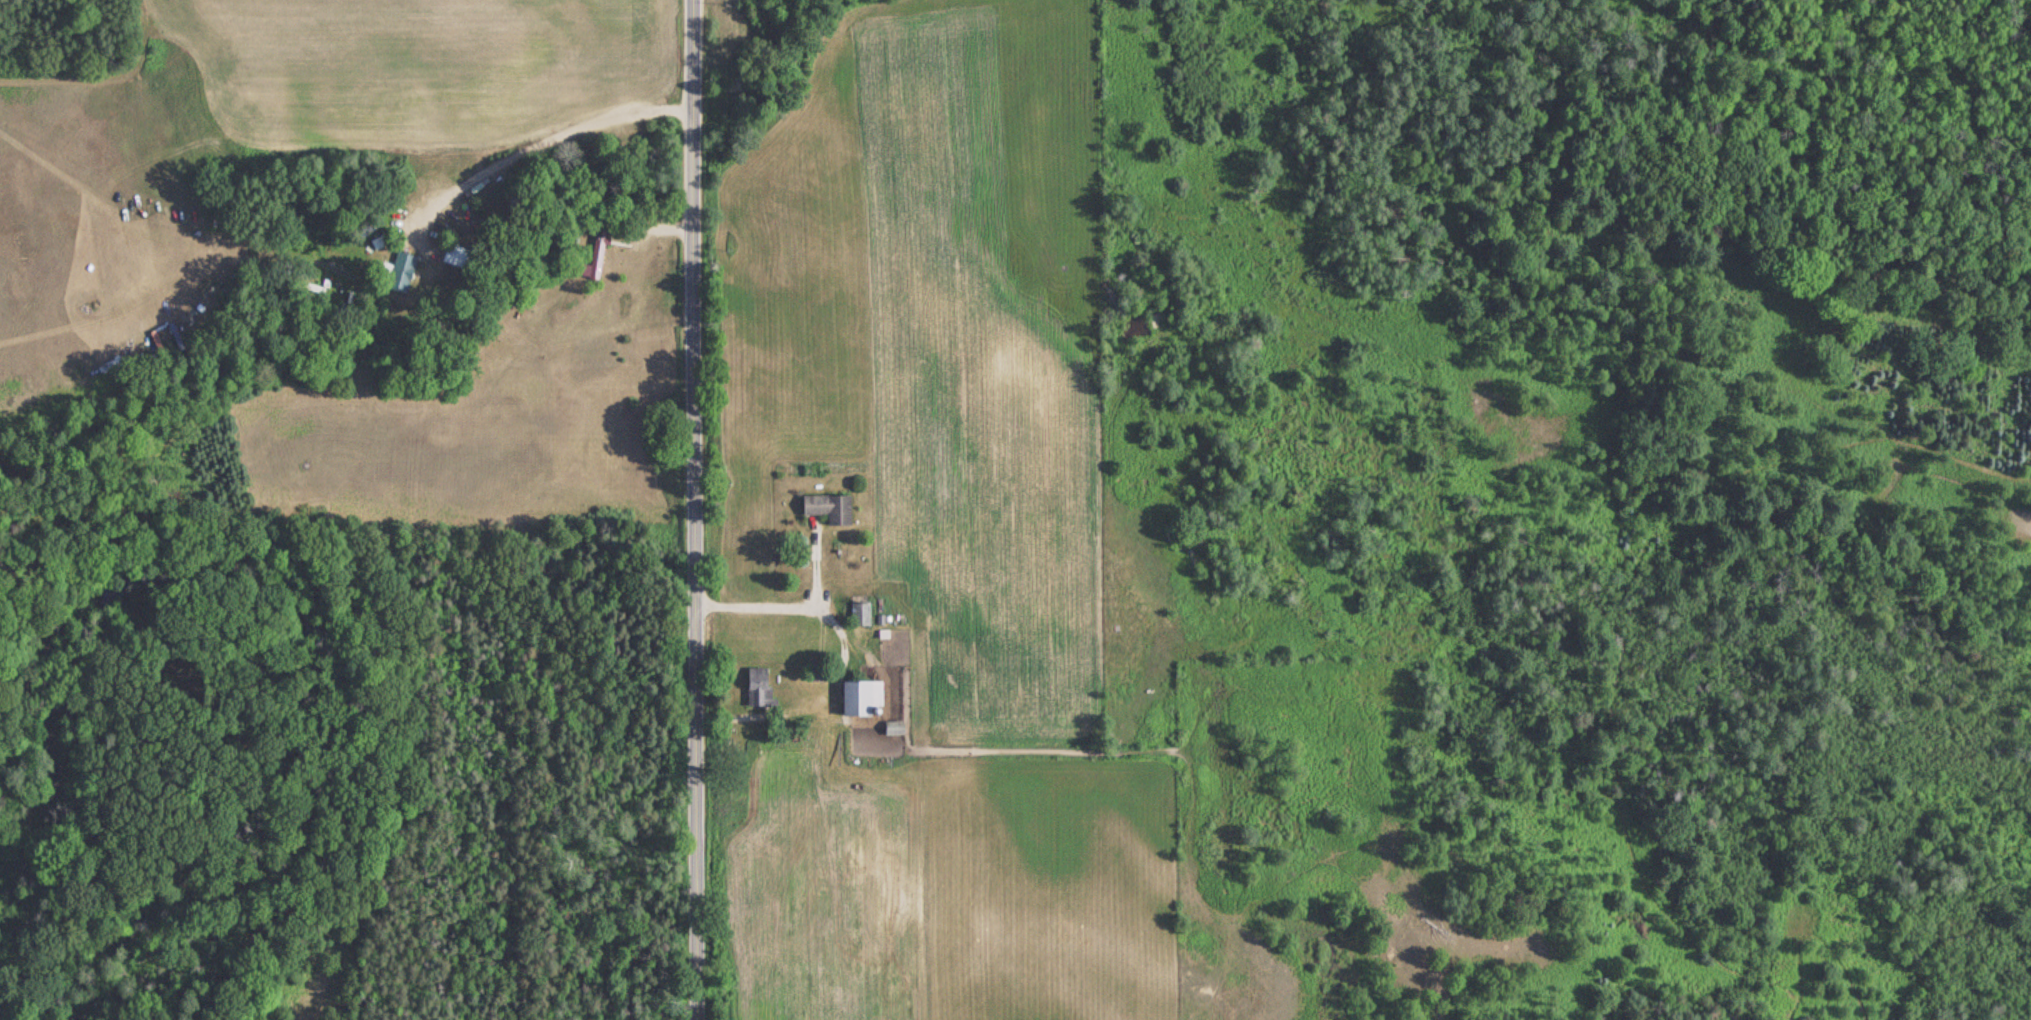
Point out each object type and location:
building: (455, 255)
building: (400, 267)
building: (825, 507)
road: (693, 509)
building: (857, 613)
building: (813, 670)
building: (754, 686)
building: (858, 696)
building: (891, 727)
road: (1972, 887)

